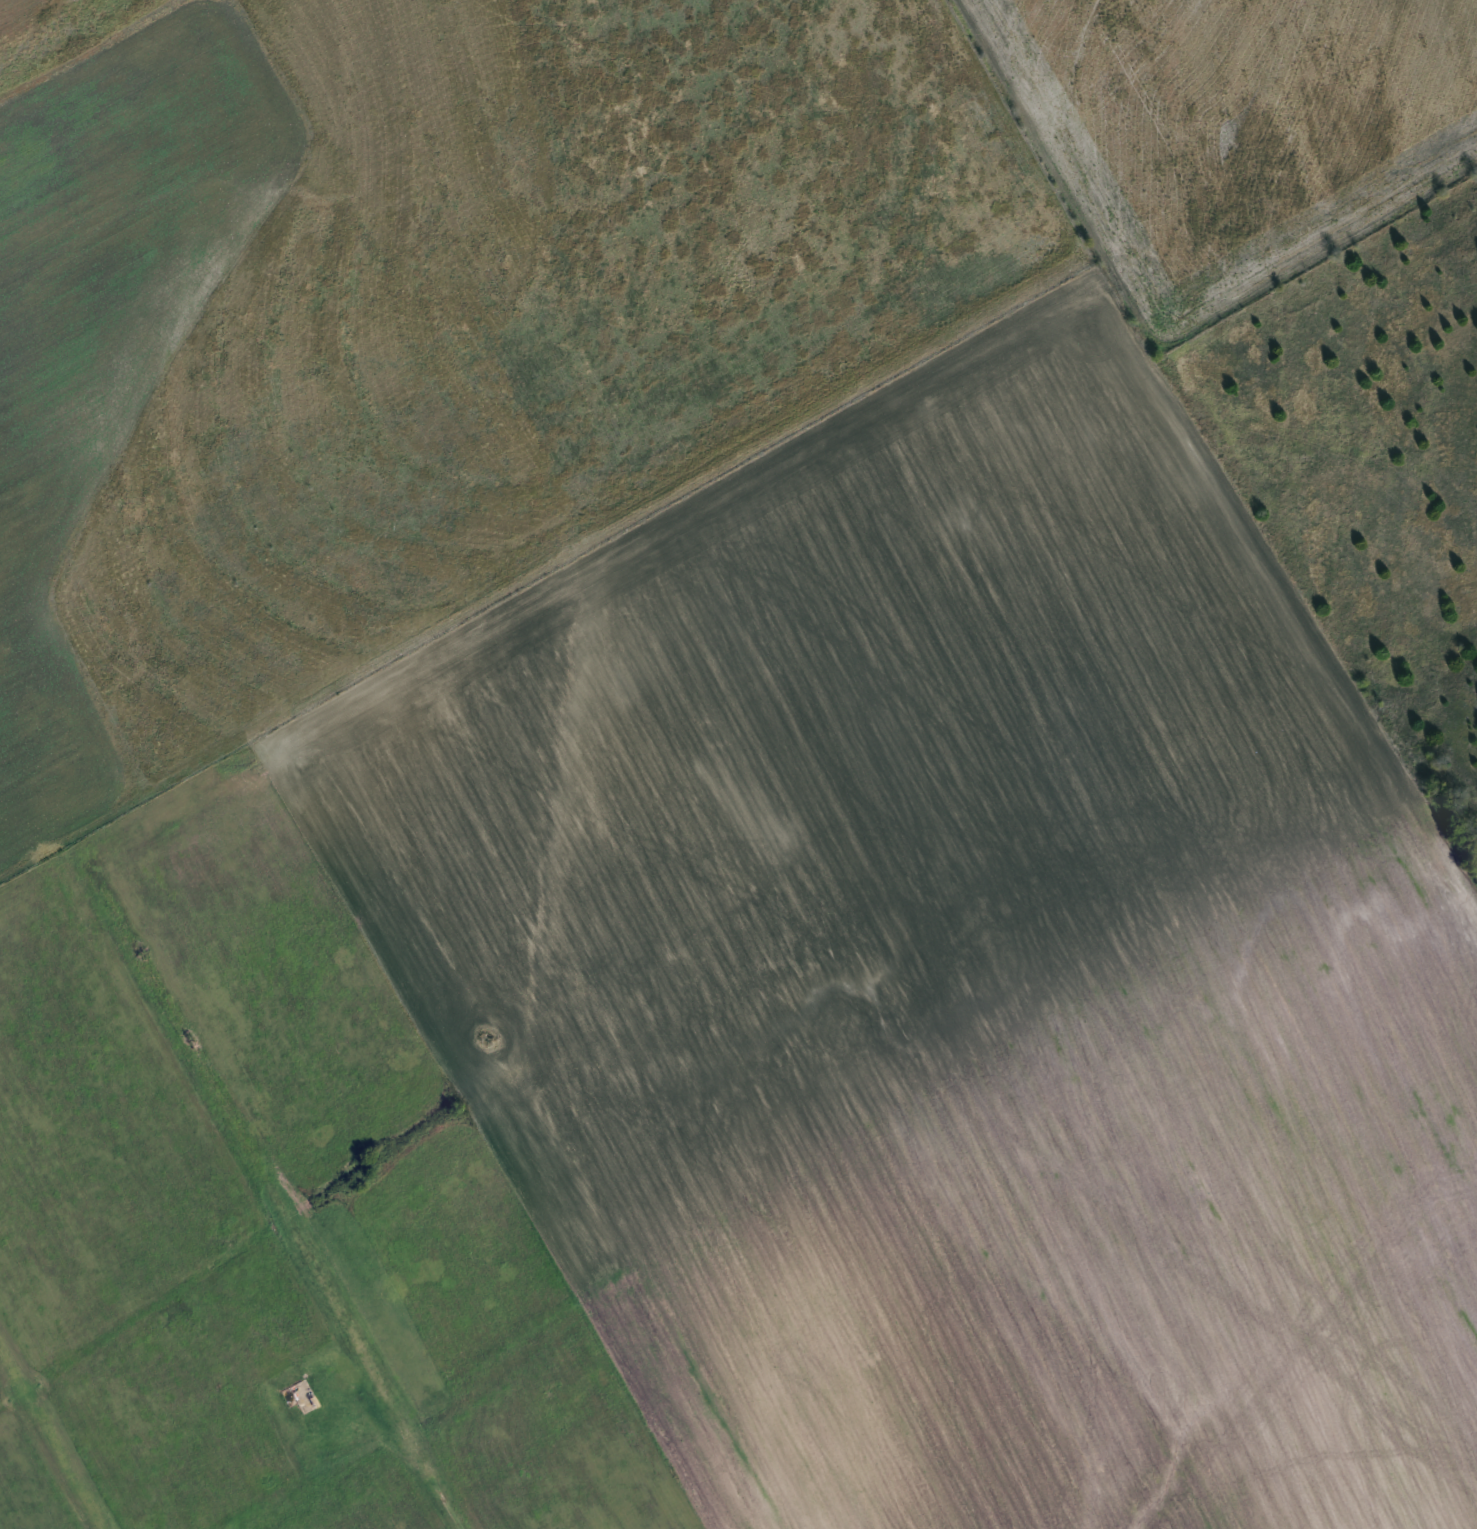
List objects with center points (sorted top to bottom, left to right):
road: (273, 1189)

